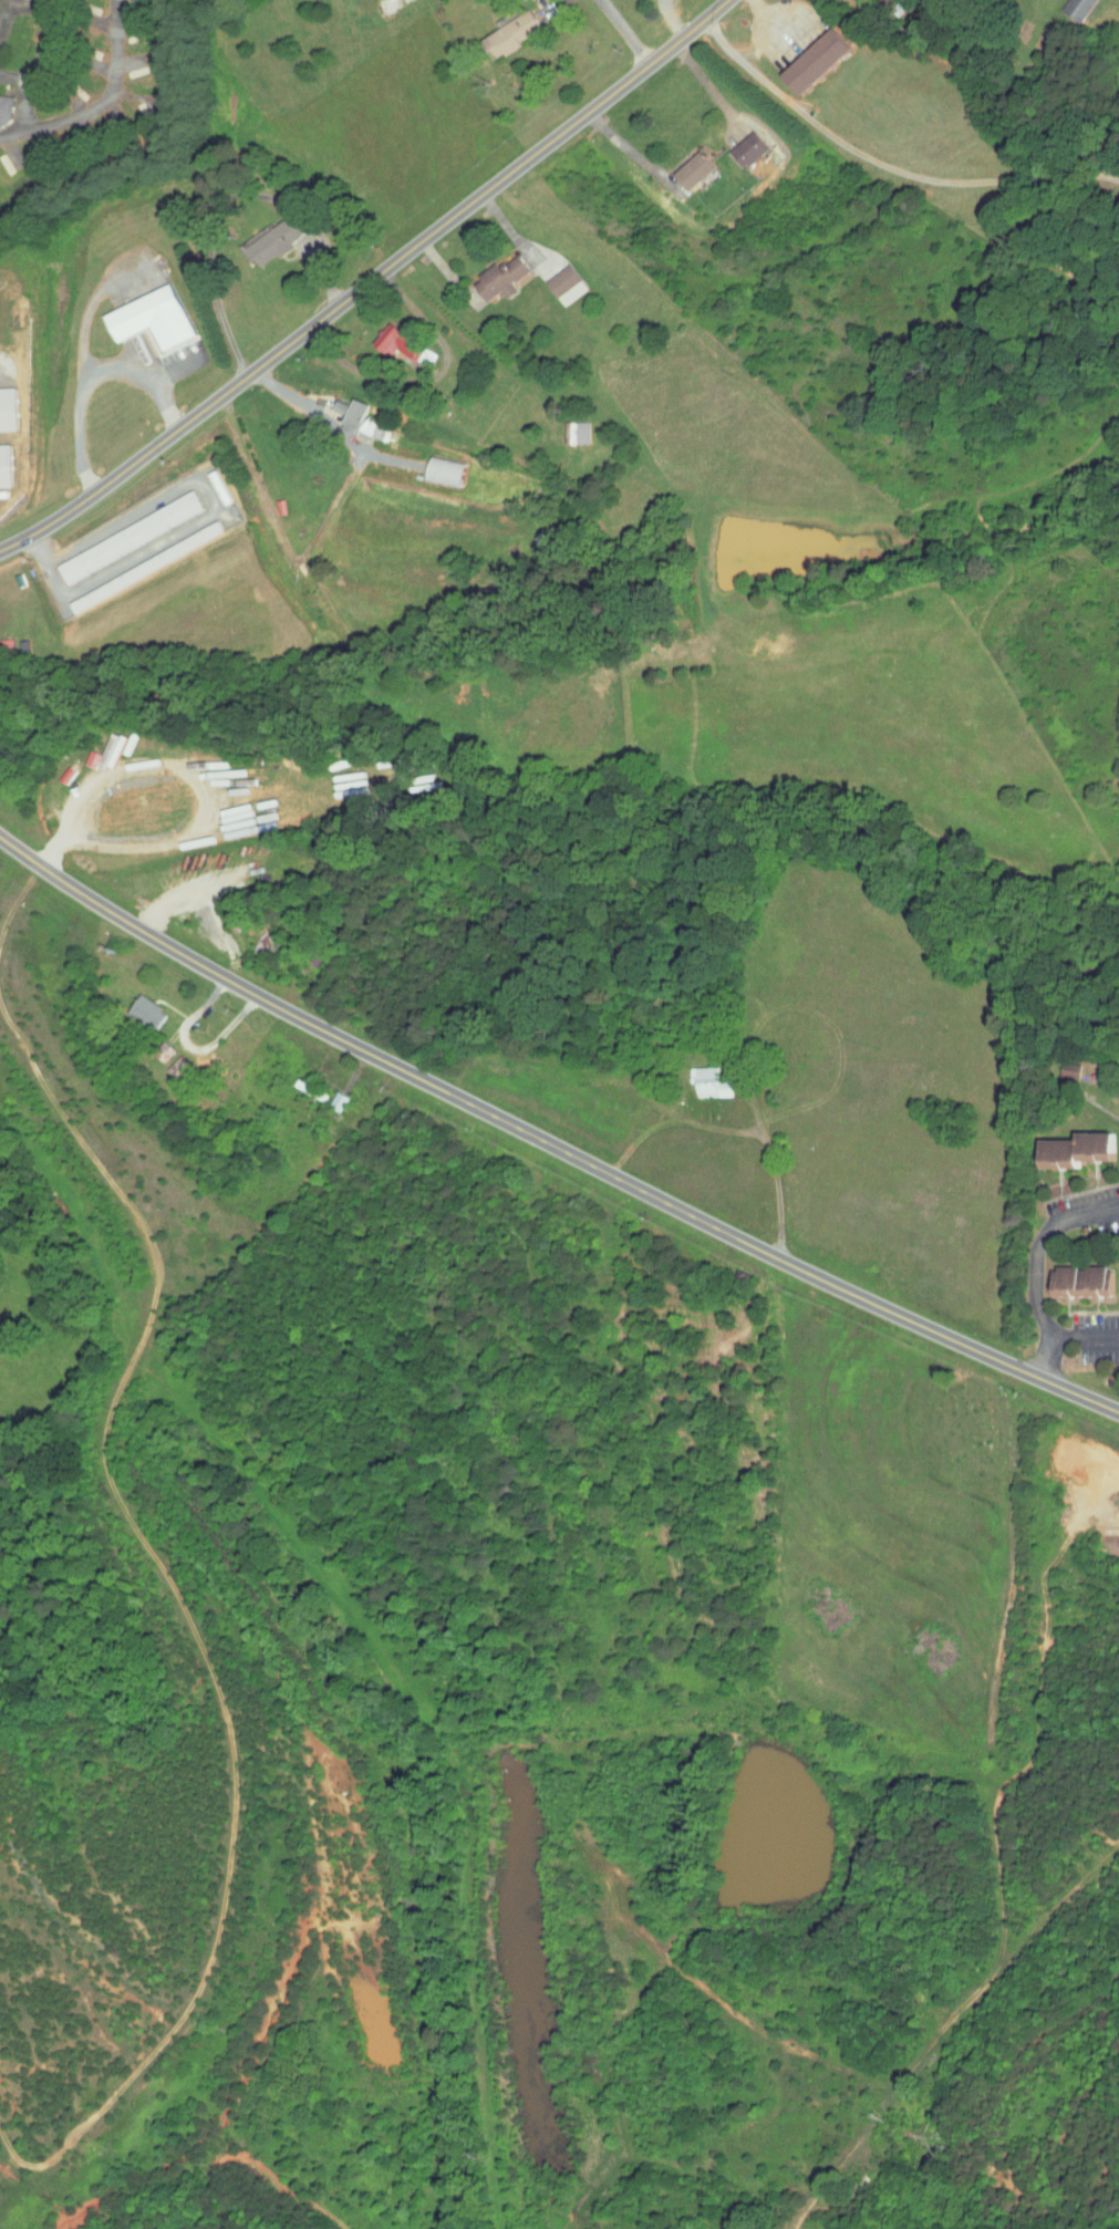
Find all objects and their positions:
road: (1, 6)
building: (1067, 6)
building: (502, 28)
road: (760, 32)
road: (617, 33)
building: (810, 54)
road: (707, 82)
building: (1, 100)
road: (103, 106)
building: (740, 143)
road: (626, 148)
building: (688, 164)
road: (883, 165)
road: (296, 221)
building: (268, 234)
road: (209, 251)
road: (318, 269)
building: (494, 272)
building: (558, 279)
road: (364, 283)
building: (146, 312)
building: (388, 335)
road: (174, 372)
road: (86, 374)
road: (427, 379)
road: (304, 402)
building: (2, 403)
building: (355, 417)
building: (566, 426)
building: (437, 466)
building: (0, 479)
road: (208, 495)
building: (121, 531)
building: (141, 1005)
building: (1054, 1064)
building: (701, 1076)
building: (1112, 1076)
building: (1056, 1142)
road: (549, 1147)
road: (1034, 1269)
building: (1066, 1274)
building: (1113, 1274)
road: (1085, 1337)
road: (30, 1797)

